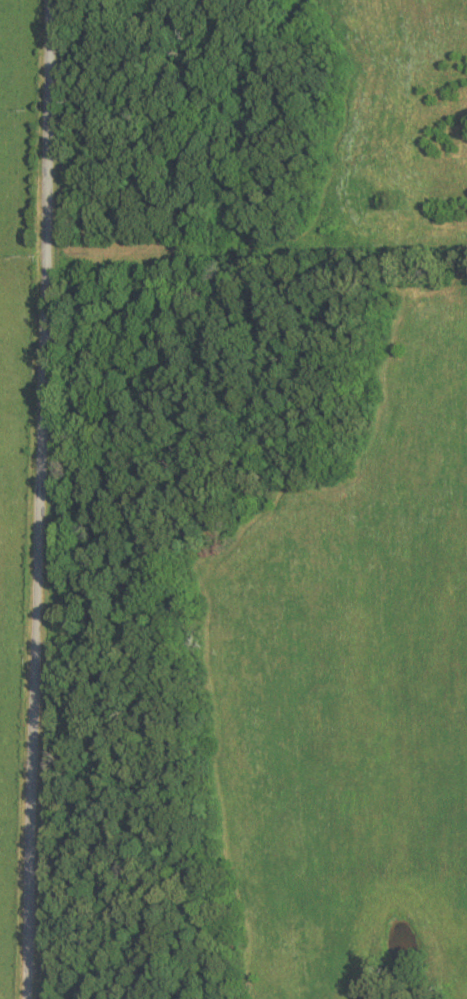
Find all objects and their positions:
road: (38, 499)

